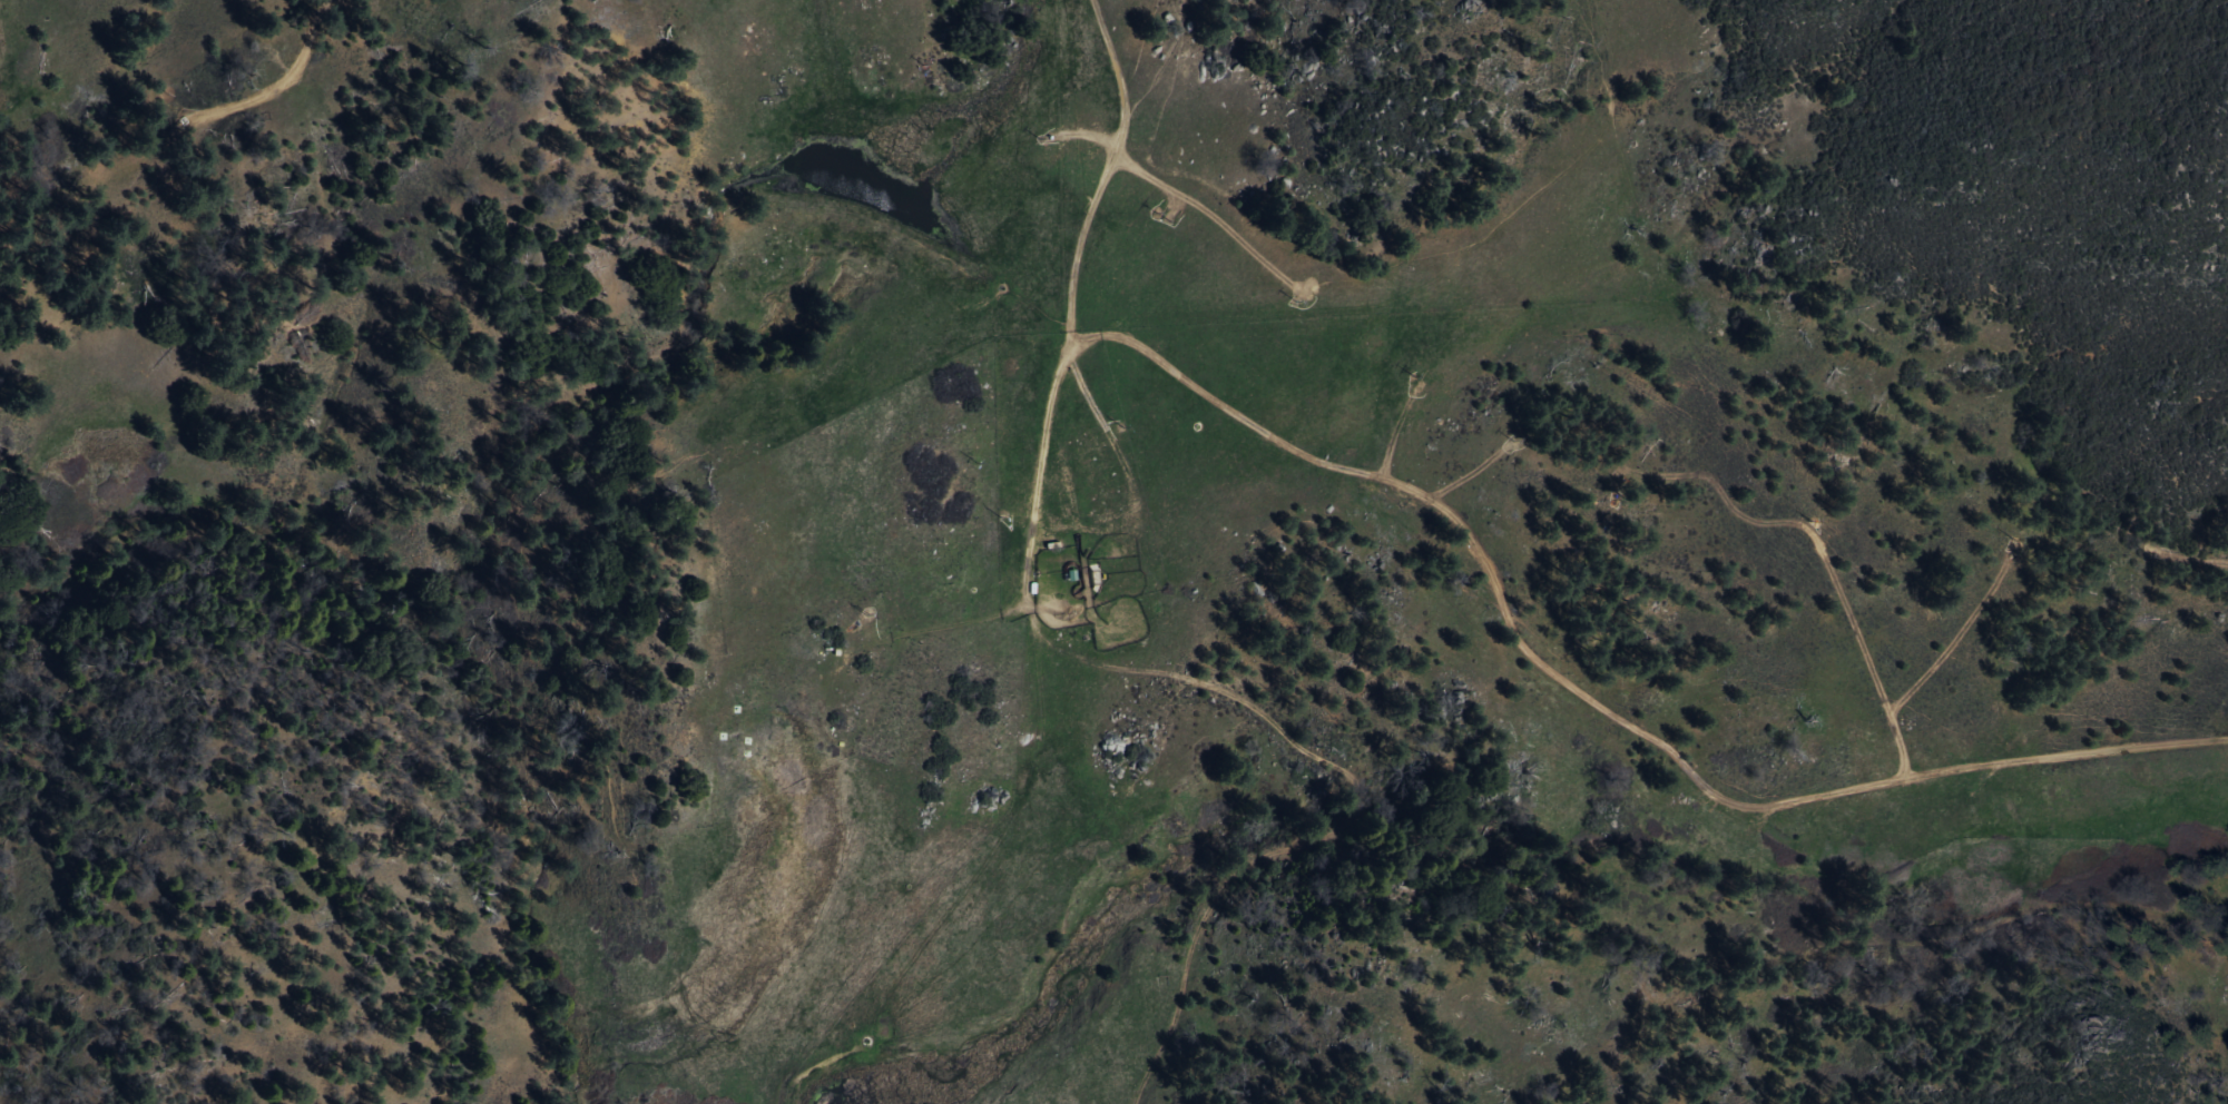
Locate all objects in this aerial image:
road: (1096, 662)

